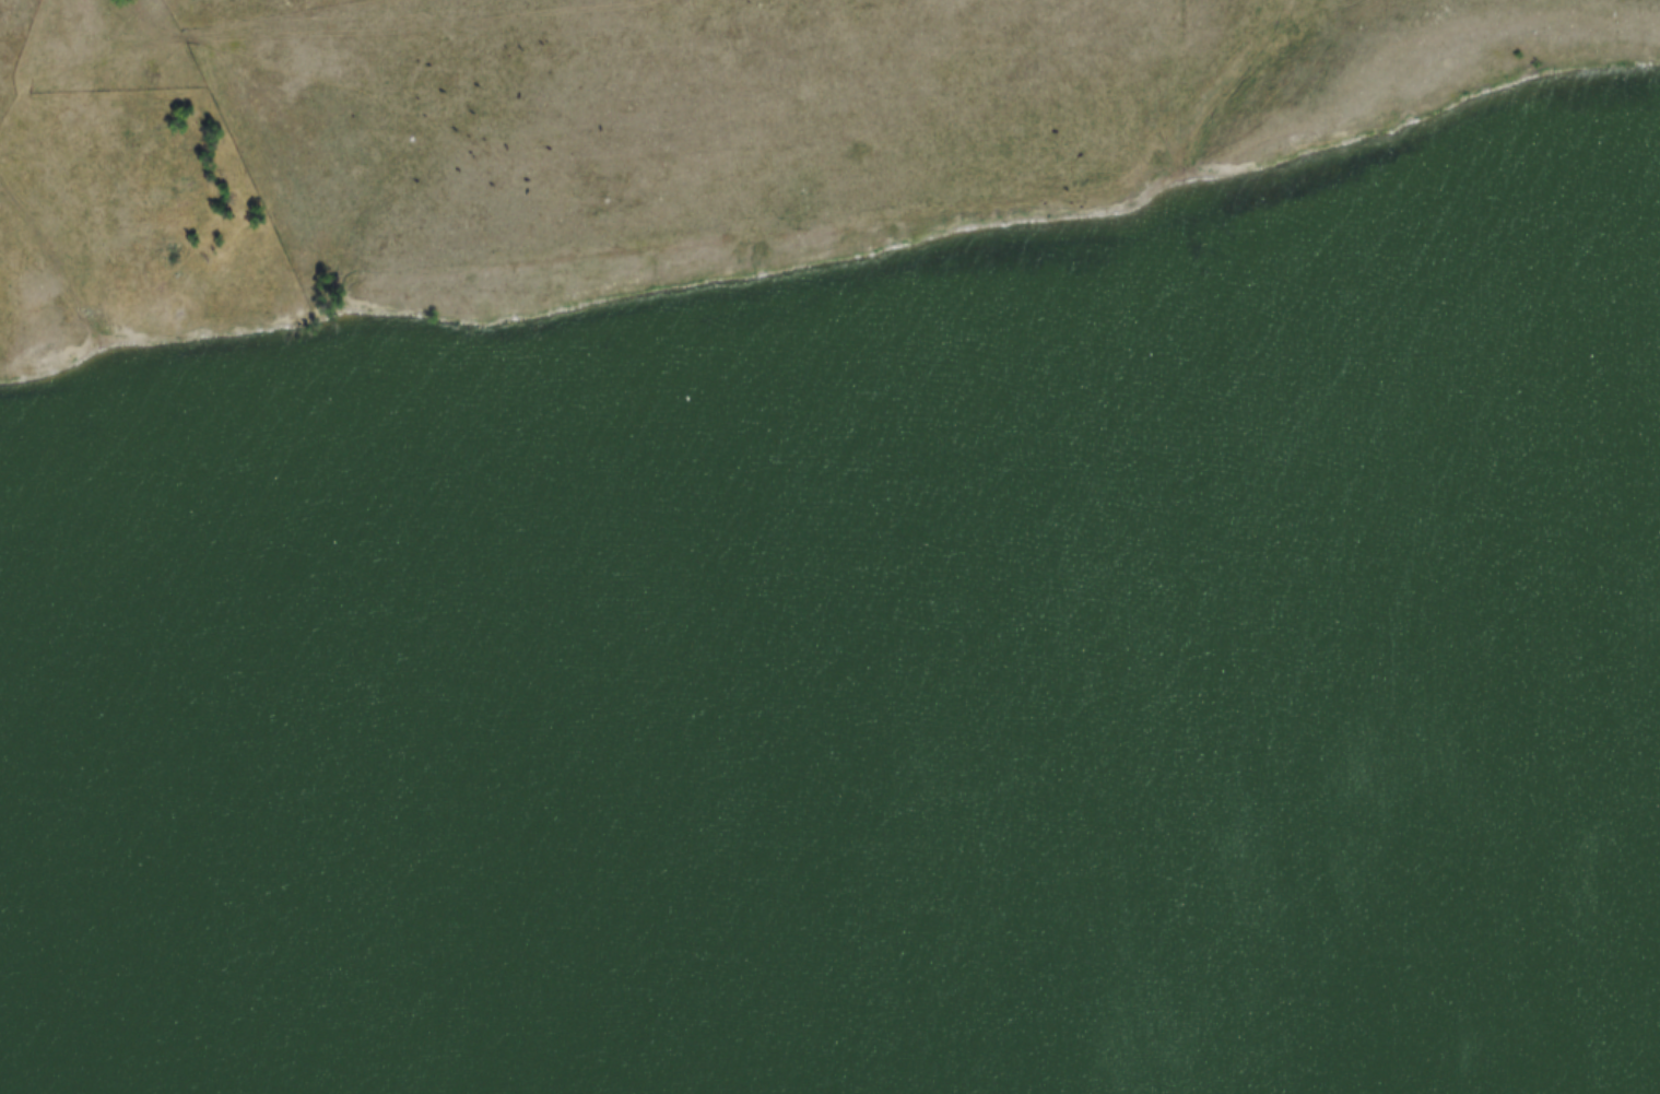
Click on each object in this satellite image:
road: (73, 230)

